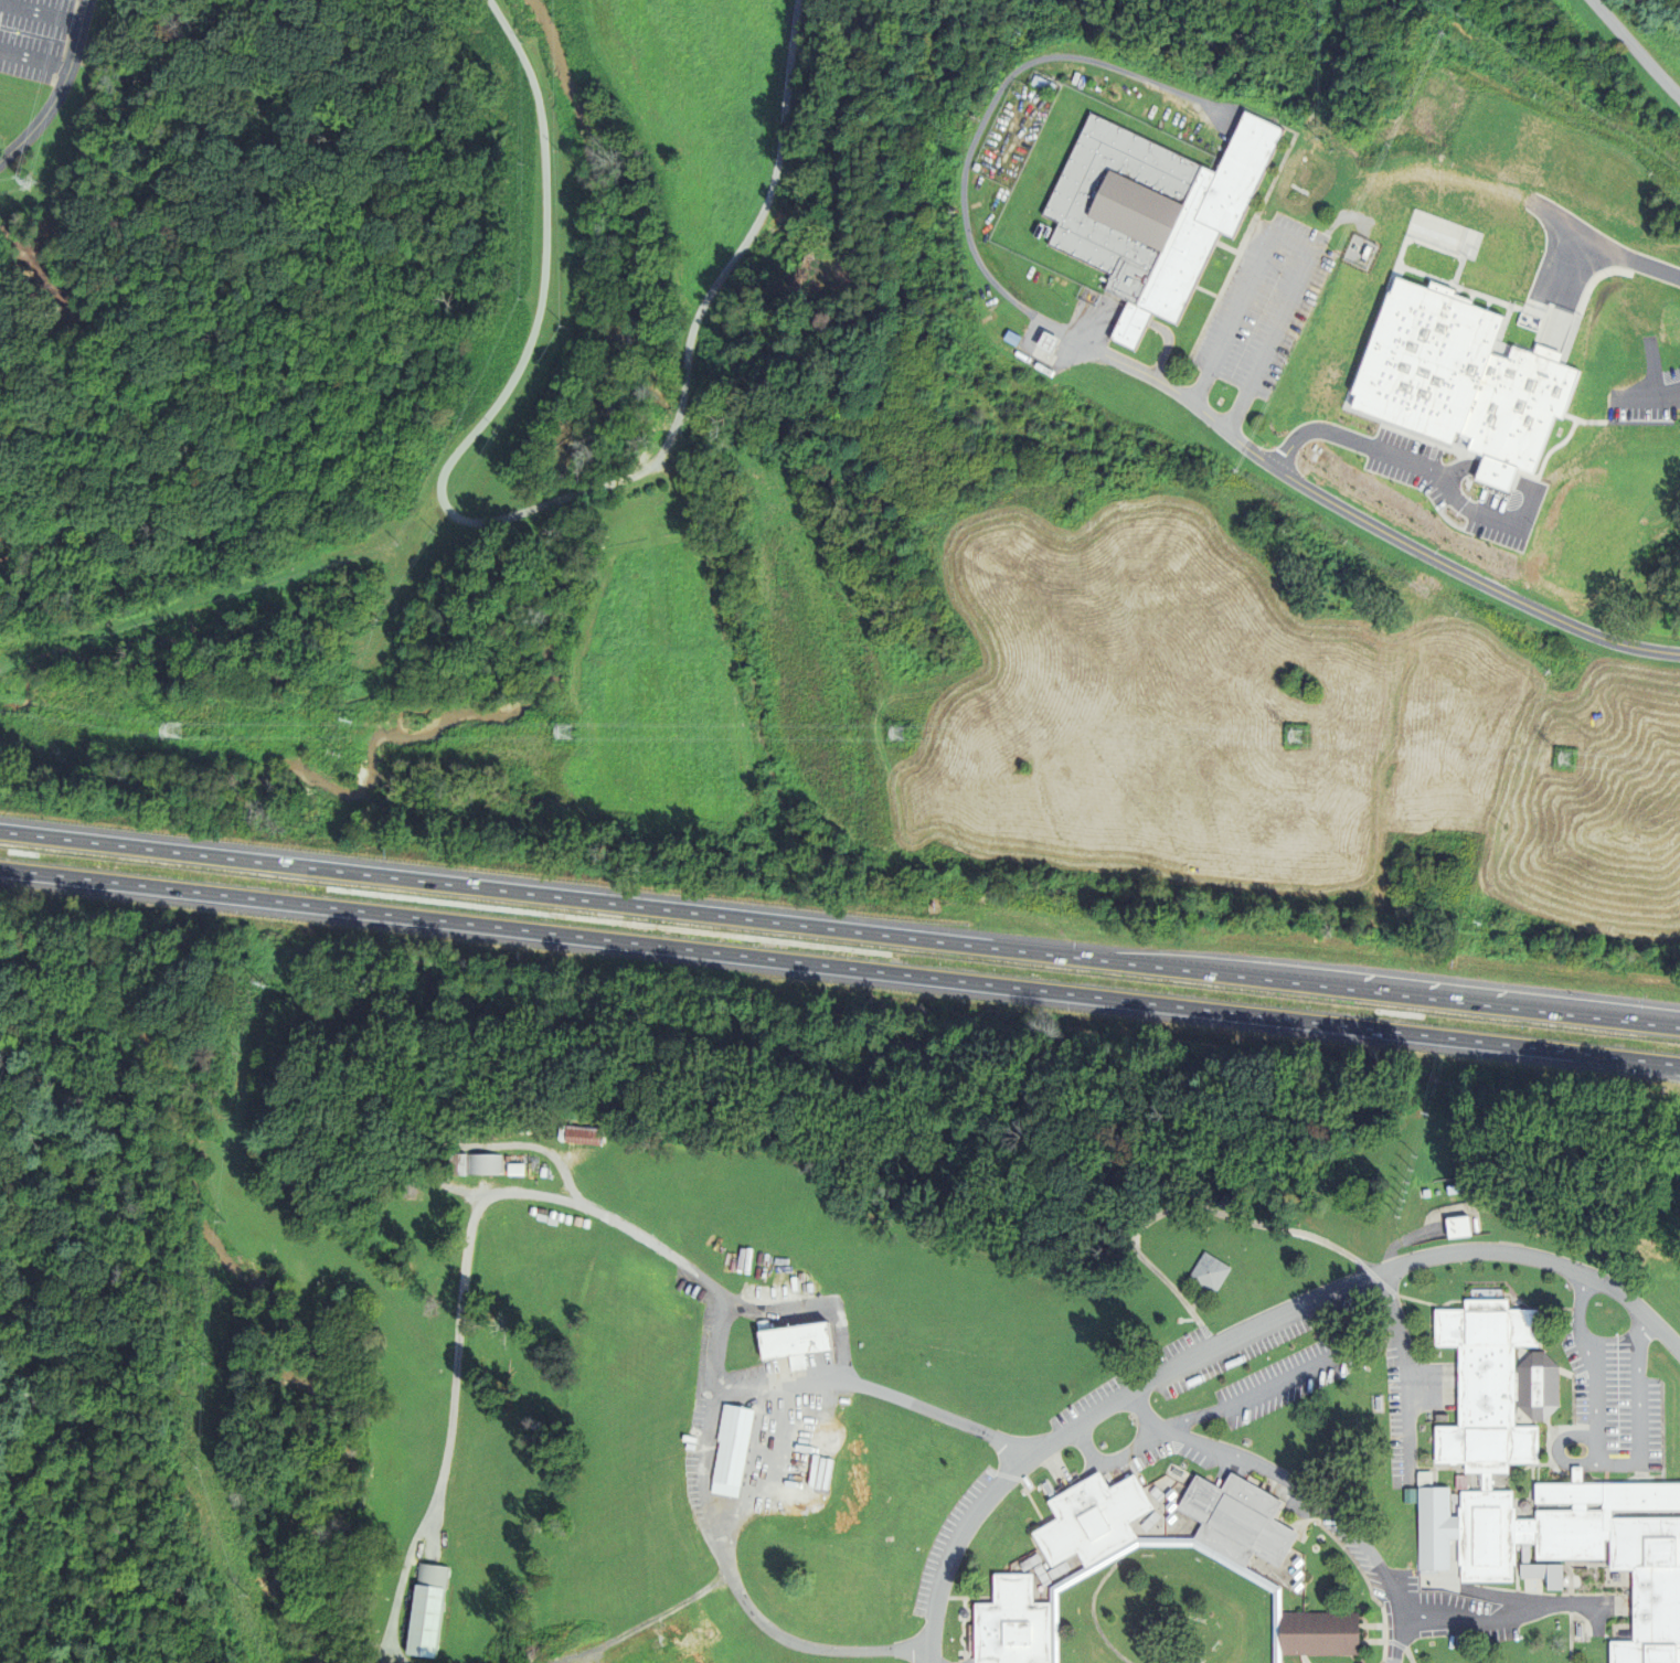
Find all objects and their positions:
road: (41, 12)
parking lot: (34, 36)
road: (1636, 47)
road: (34, 58)
road: (321, 64)
building: (1042, 85)
road: (60, 89)
road: (998, 90)
power tower: (20, 182)
building: (1151, 213)
road: (1299, 244)
river: (631, 247)
parking lot: (1259, 316)
building: (1046, 343)
road: (1114, 359)
building: (1429, 372)
building: (1521, 373)
building: (1478, 374)
parking lot: (1221, 396)
building: (1679, 418)
building: (1598, 431)
road: (1554, 445)
building: (1507, 491)
river: (566, 493)
road: (523, 509)
building: (1591, 525)
building: (1544, 526)
road: (225, 544)
road: (1603, 547)
road: (1424, 554)
crop: (651, 599)
crop: (827, 681)
river: (462, 716)
power tower: (169, 729)
power tower: (565, 731)
power tower: (897, 733)
crop: (656, 735)
power tower: (1296, 735)
power tower: (1565, 757)
river: (194, 873)
road: (839, 928)
road: (840, 967)
road: (1662, 1023)
building: (574, 1137)
building: (469, 1165)
building: (511, 1169)
road: (1189, 1207)
building: (1452, 1228)
road: (1405, 1260)
road: (689, 1268)
building: (1203, 1273)
river: (258, 1308)
building: (788, 1343)
road: (1406, 1368)
road: (1278, 1383)
road: (874, 1389)
road: (1134, 1449)
building: (729, 1451)
building: (1539, 1485)
road: (982, 1495)
road: (1325, 1506)
building: (1541, 1576)
building: (1109, 1602)
building: (423, 1610)

